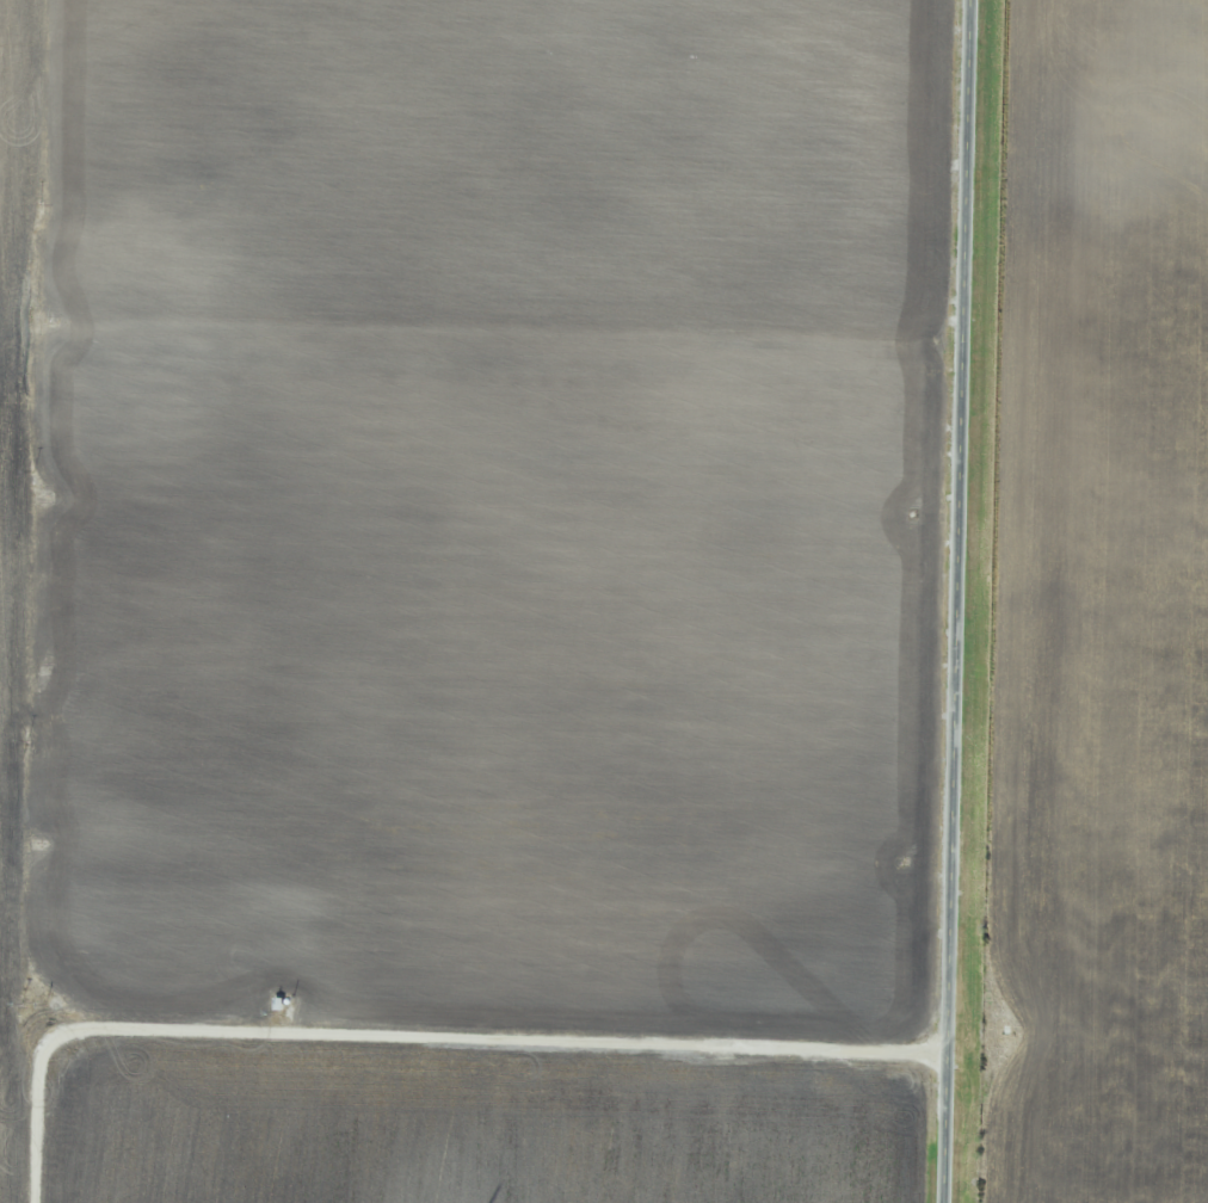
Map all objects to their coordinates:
road: (956, 601)

